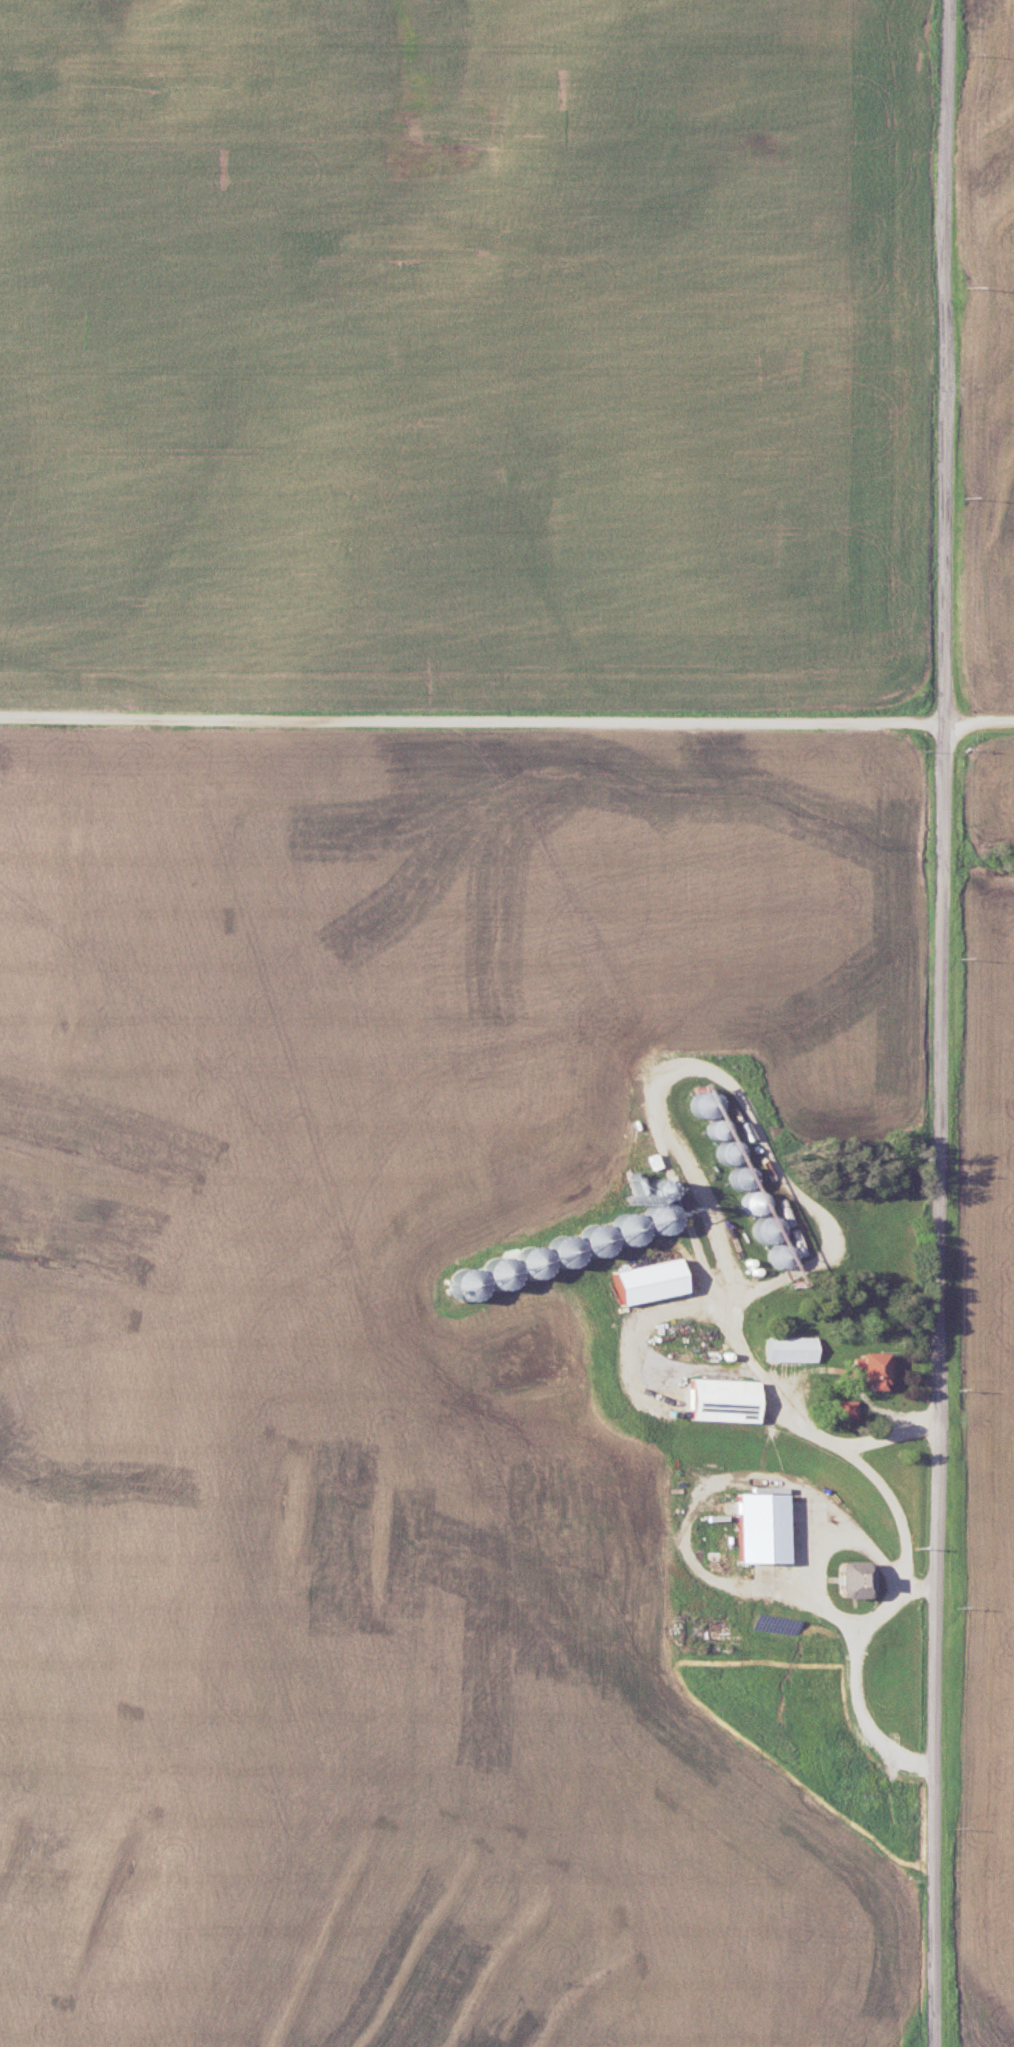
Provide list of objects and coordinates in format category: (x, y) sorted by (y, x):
road: (506, 720)
road: (943, 1023)
building: (663, 1218)
building: (629, 1230)
building: (599, 1239)
building: (569, 1249)
building: (782, 1253)
building: (793, 1347)
building: (873, 1367)
building: (726, 1398)
building: (850, 1407)
building: (763, 1525)
building: (860, 1577)

